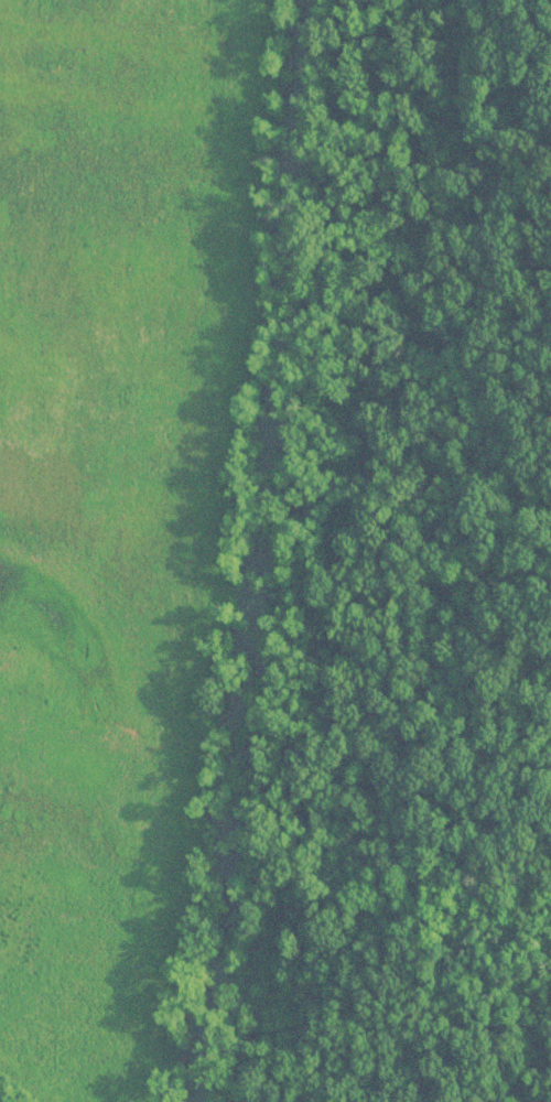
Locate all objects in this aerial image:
river: (272, 549)

